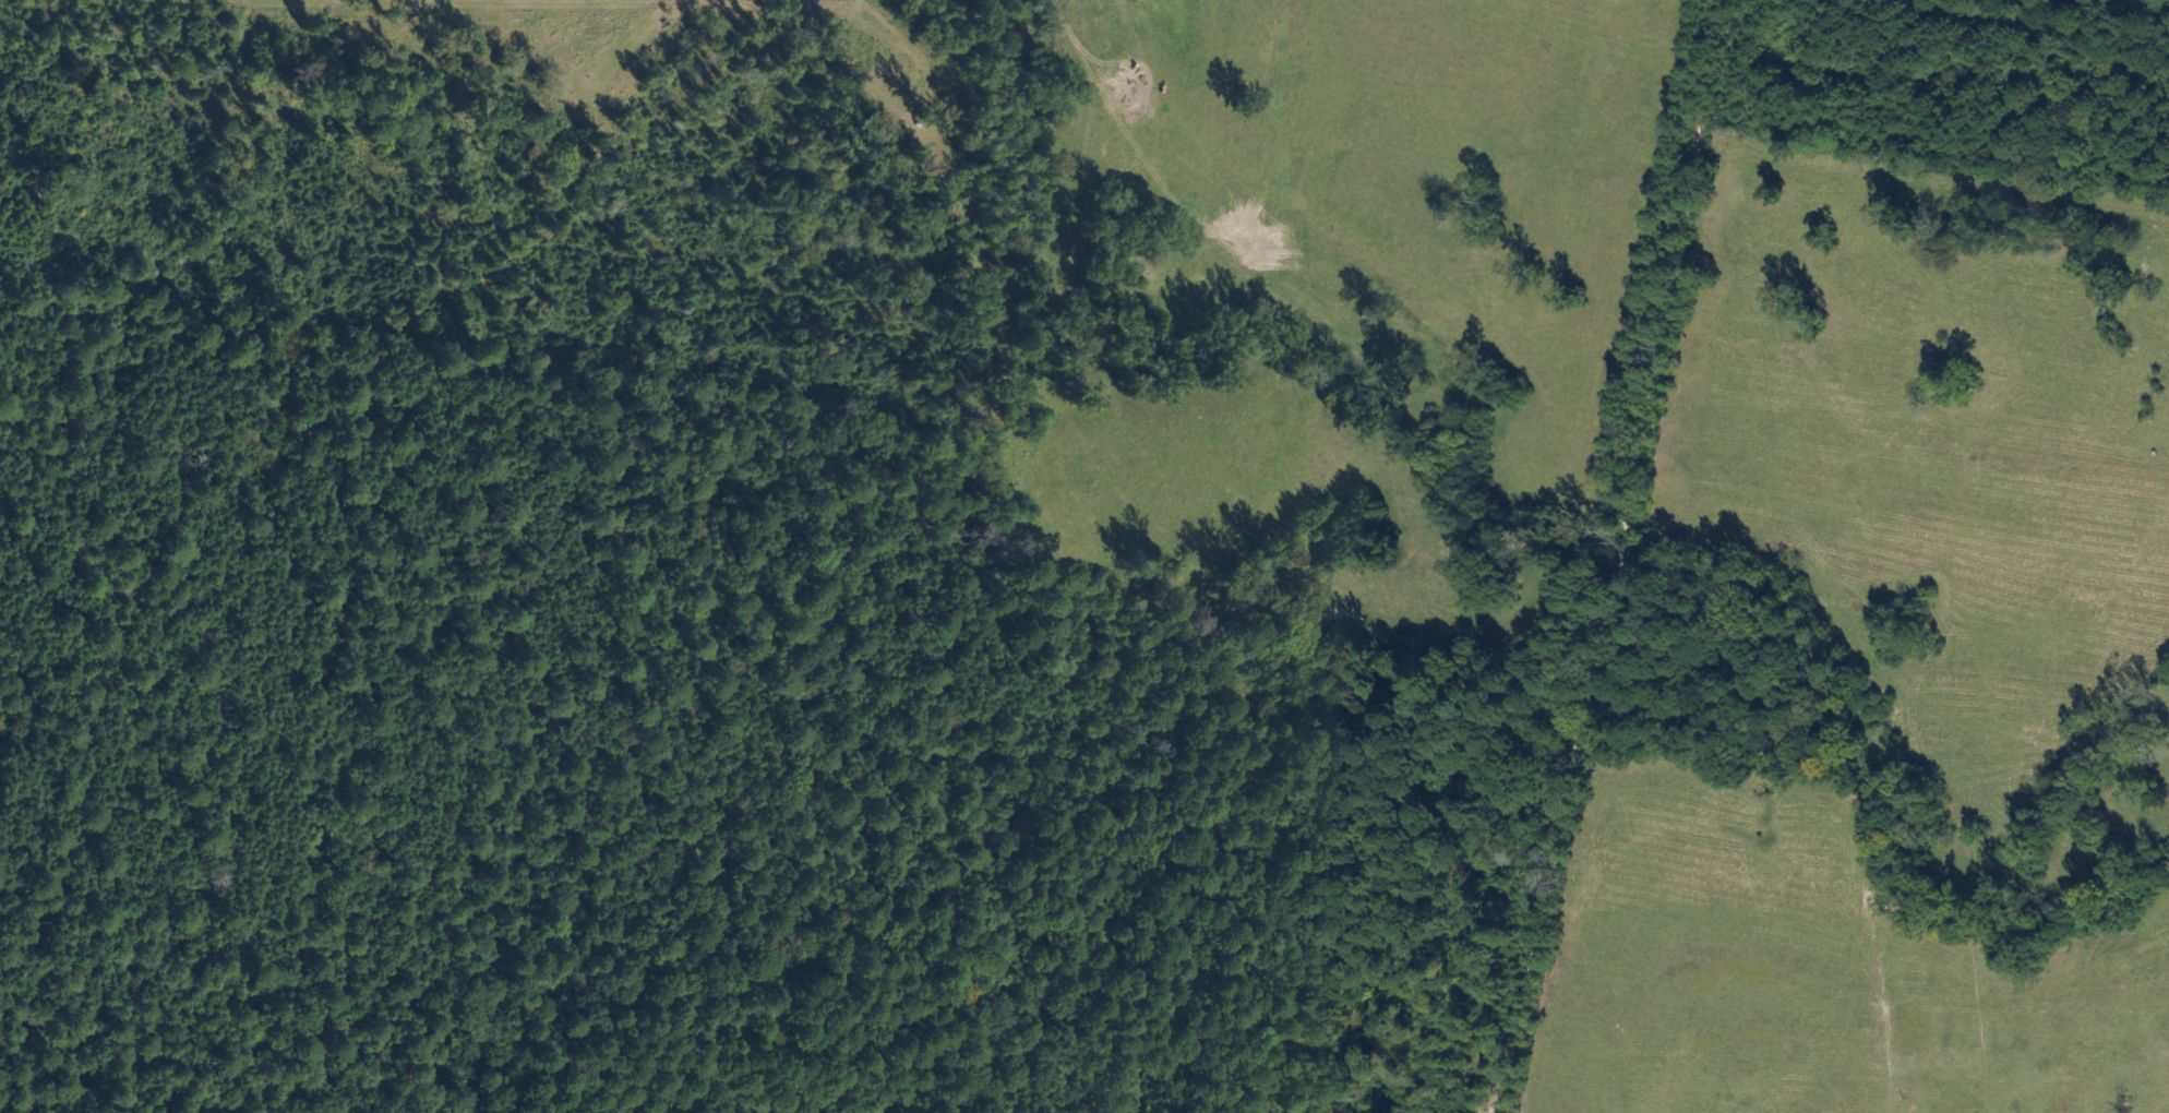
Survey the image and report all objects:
road: (1645, 563)

